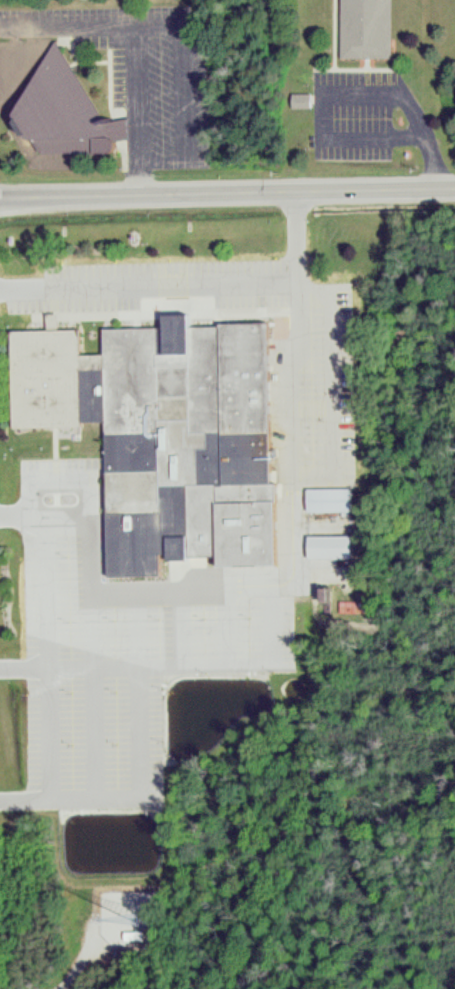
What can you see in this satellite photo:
building: (361, 29)
building: (296, 100)
building: (68, 102)
road: (227, 192)
road: (148, 281)
road: (330, 390)
building: (177, 421)
road: (62, 478)
building: (331, 497)
building: (332, 541)
road: (293, 563)
road: (93, 601)
road: (139, 601)
building: (349, 608)
road: (181, 619)
road: (271, 639)
road: (104, 663)
road: (23, 664)
road: (98, 729)
road: (49, 730)
road: (138, 796)
road: (80, 963)

